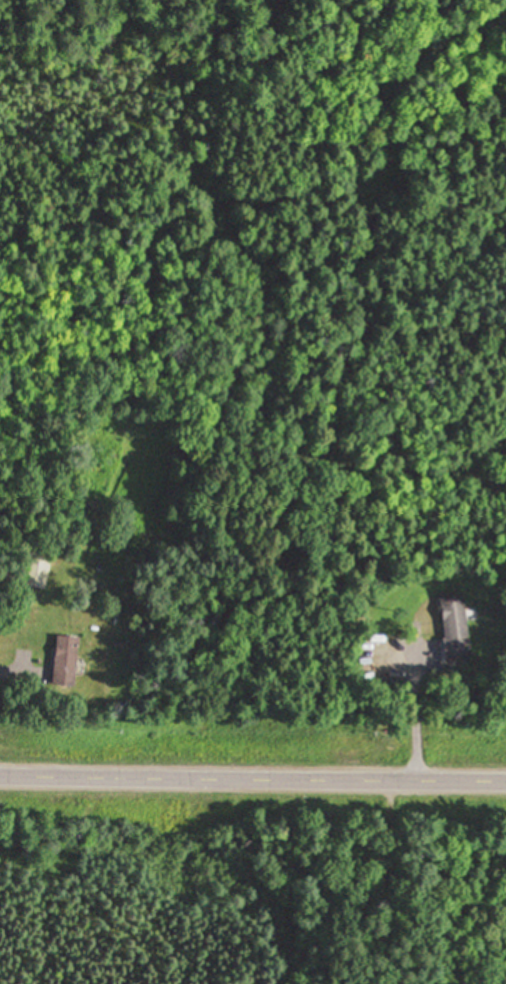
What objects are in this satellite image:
building: (37, 570)
building: (456, 628)
building: (66, 660)
road: (252, 774)

